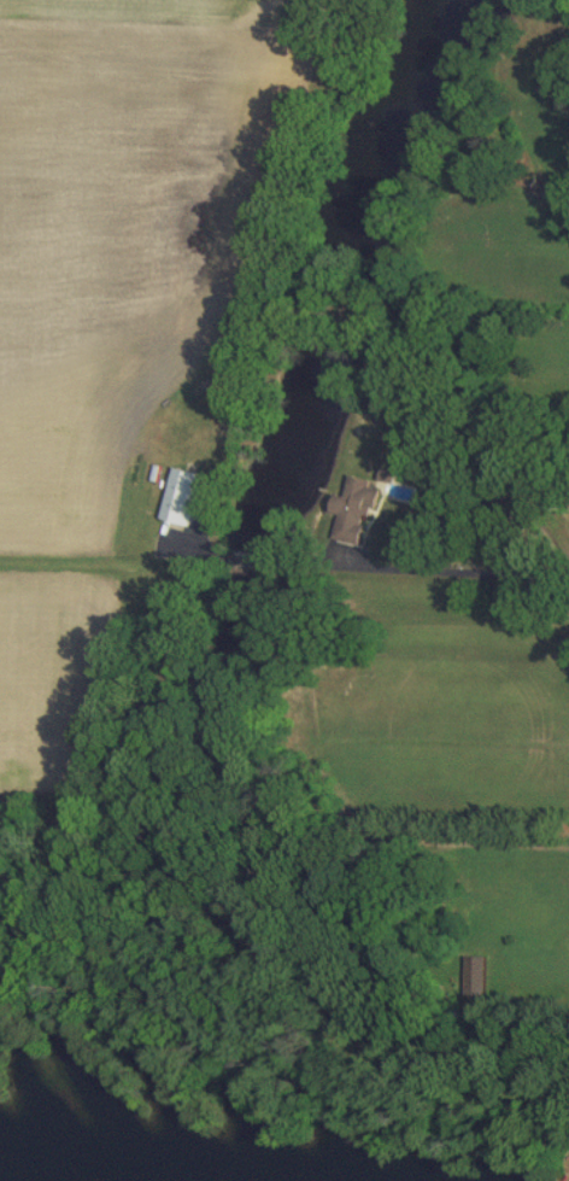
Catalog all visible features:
building: (385, 473)
building: (178, 495)
building: (350, 507)
road: (366, 567)

